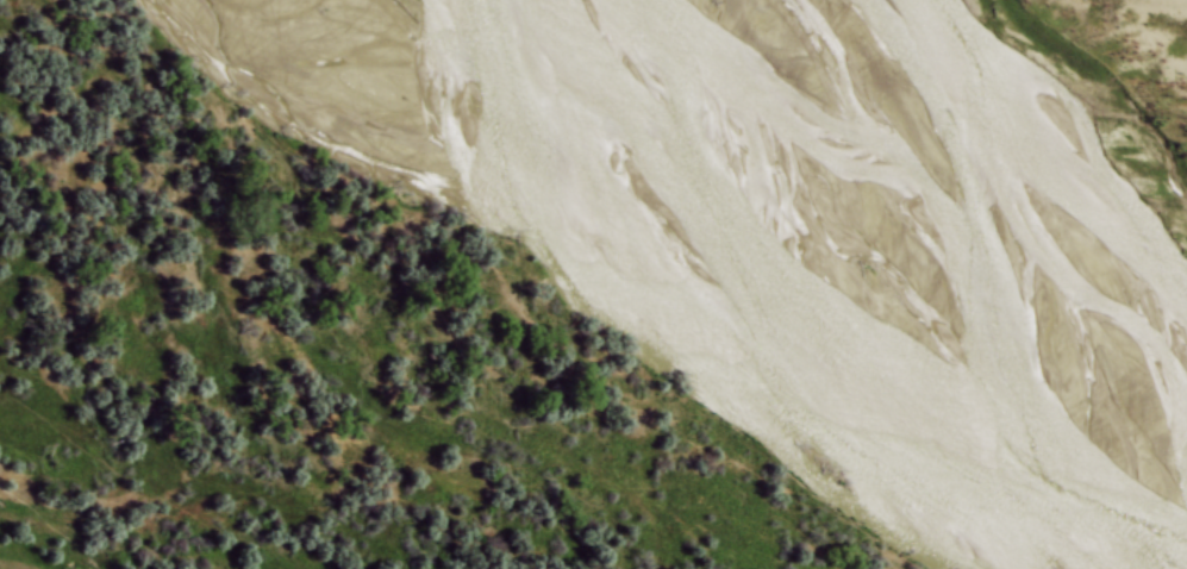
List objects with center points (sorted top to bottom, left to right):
river: (925, 273)

